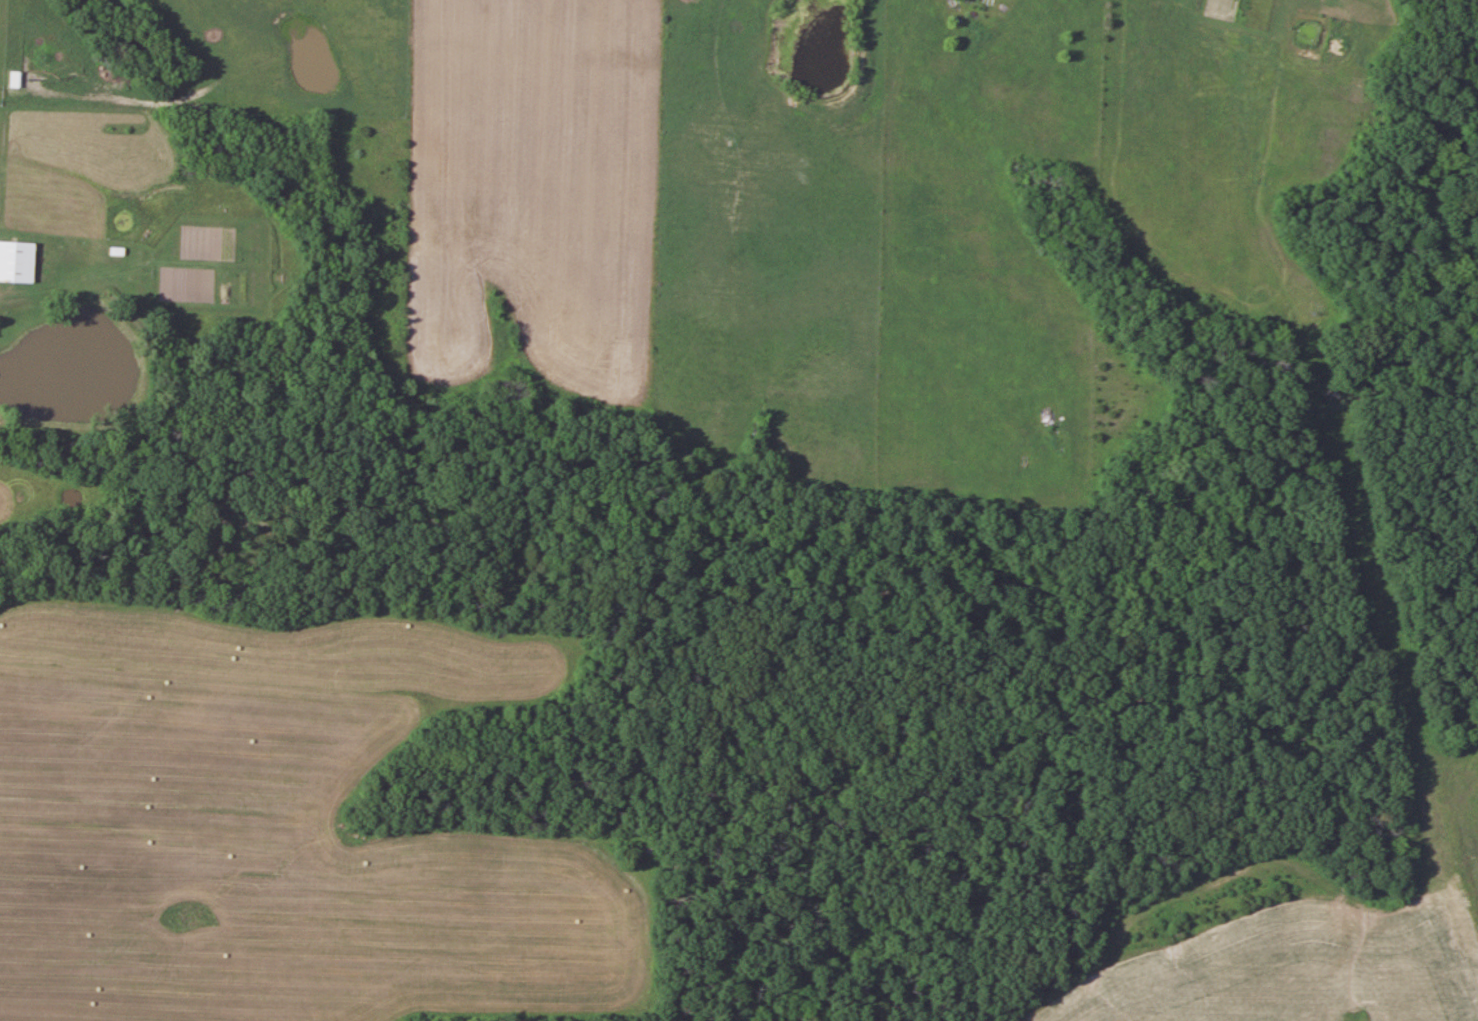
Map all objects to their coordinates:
building: (15, 79)
building: (17, 262)

